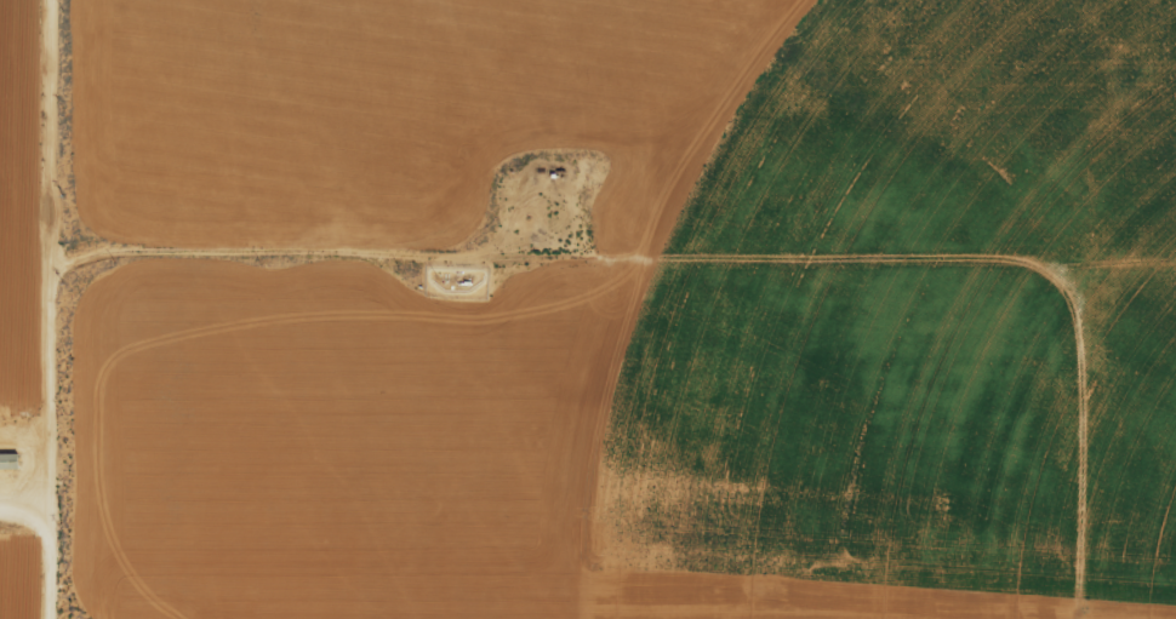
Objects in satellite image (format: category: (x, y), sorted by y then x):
road: (289, 290)
road: (55, 309)
road: (27, 504)

